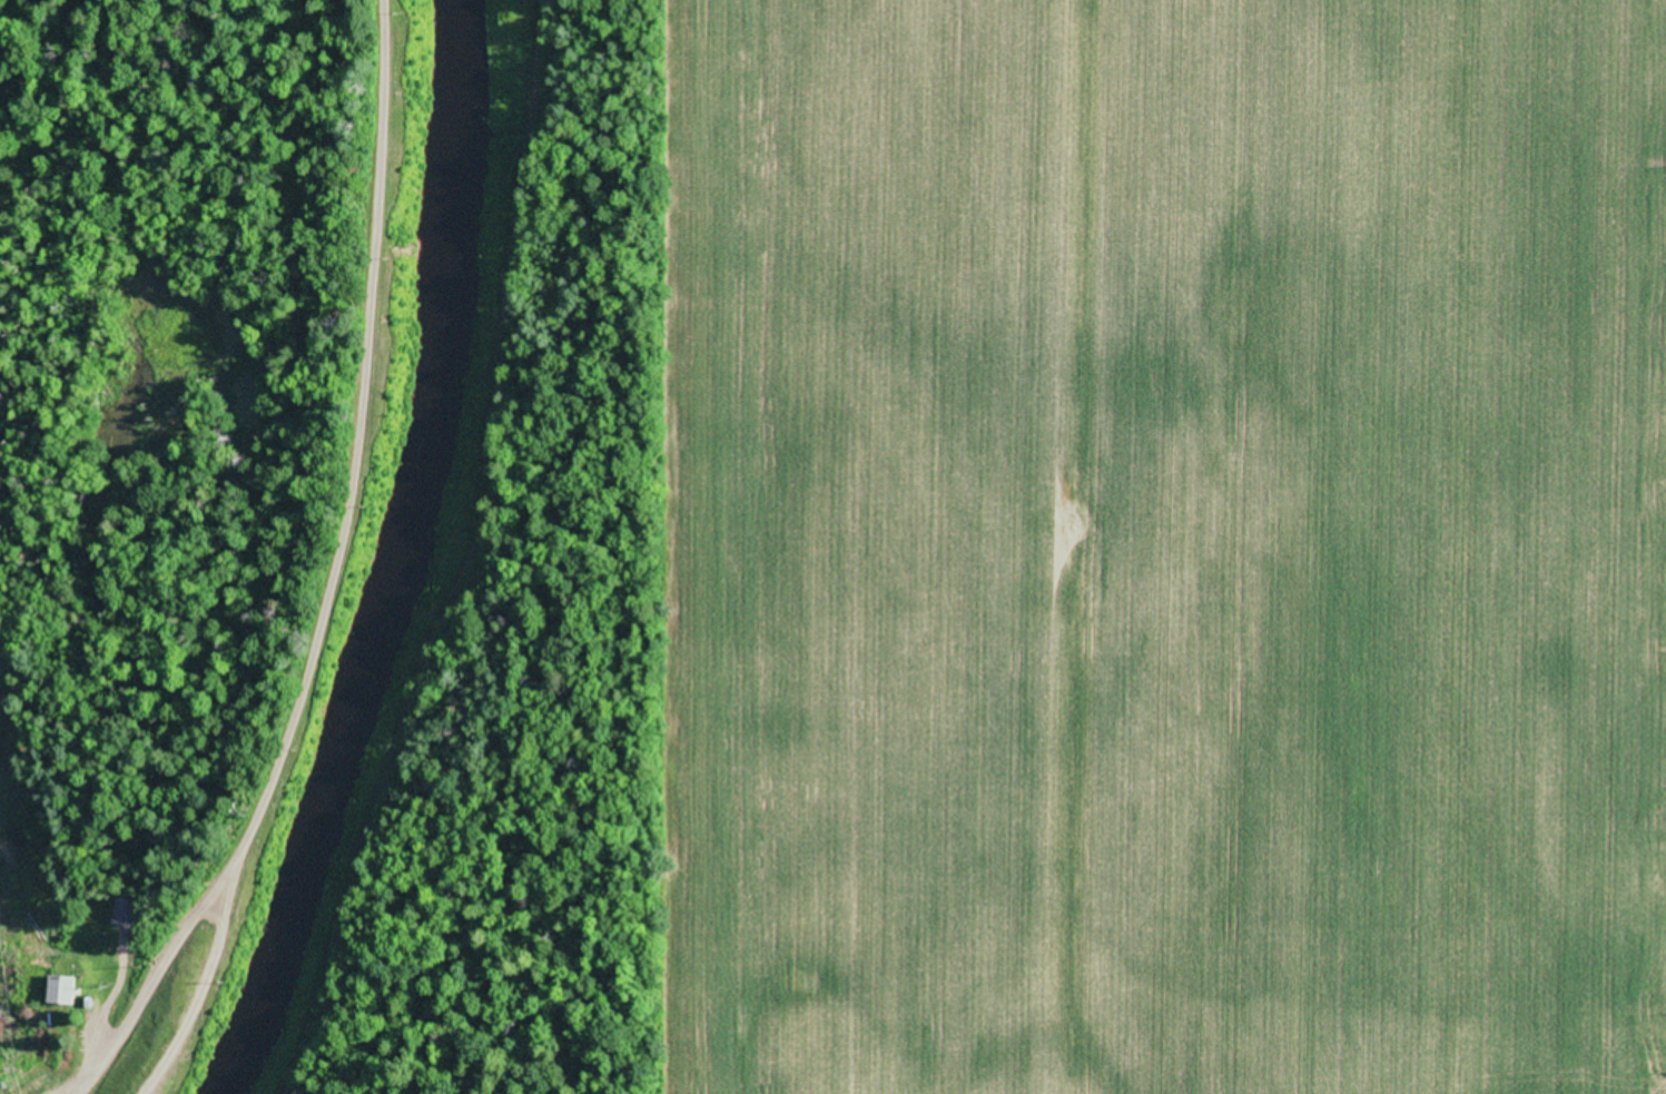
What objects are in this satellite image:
road: (511, 559)
road: (335, 580)
road: (205, 983)
building: (61, 987)

